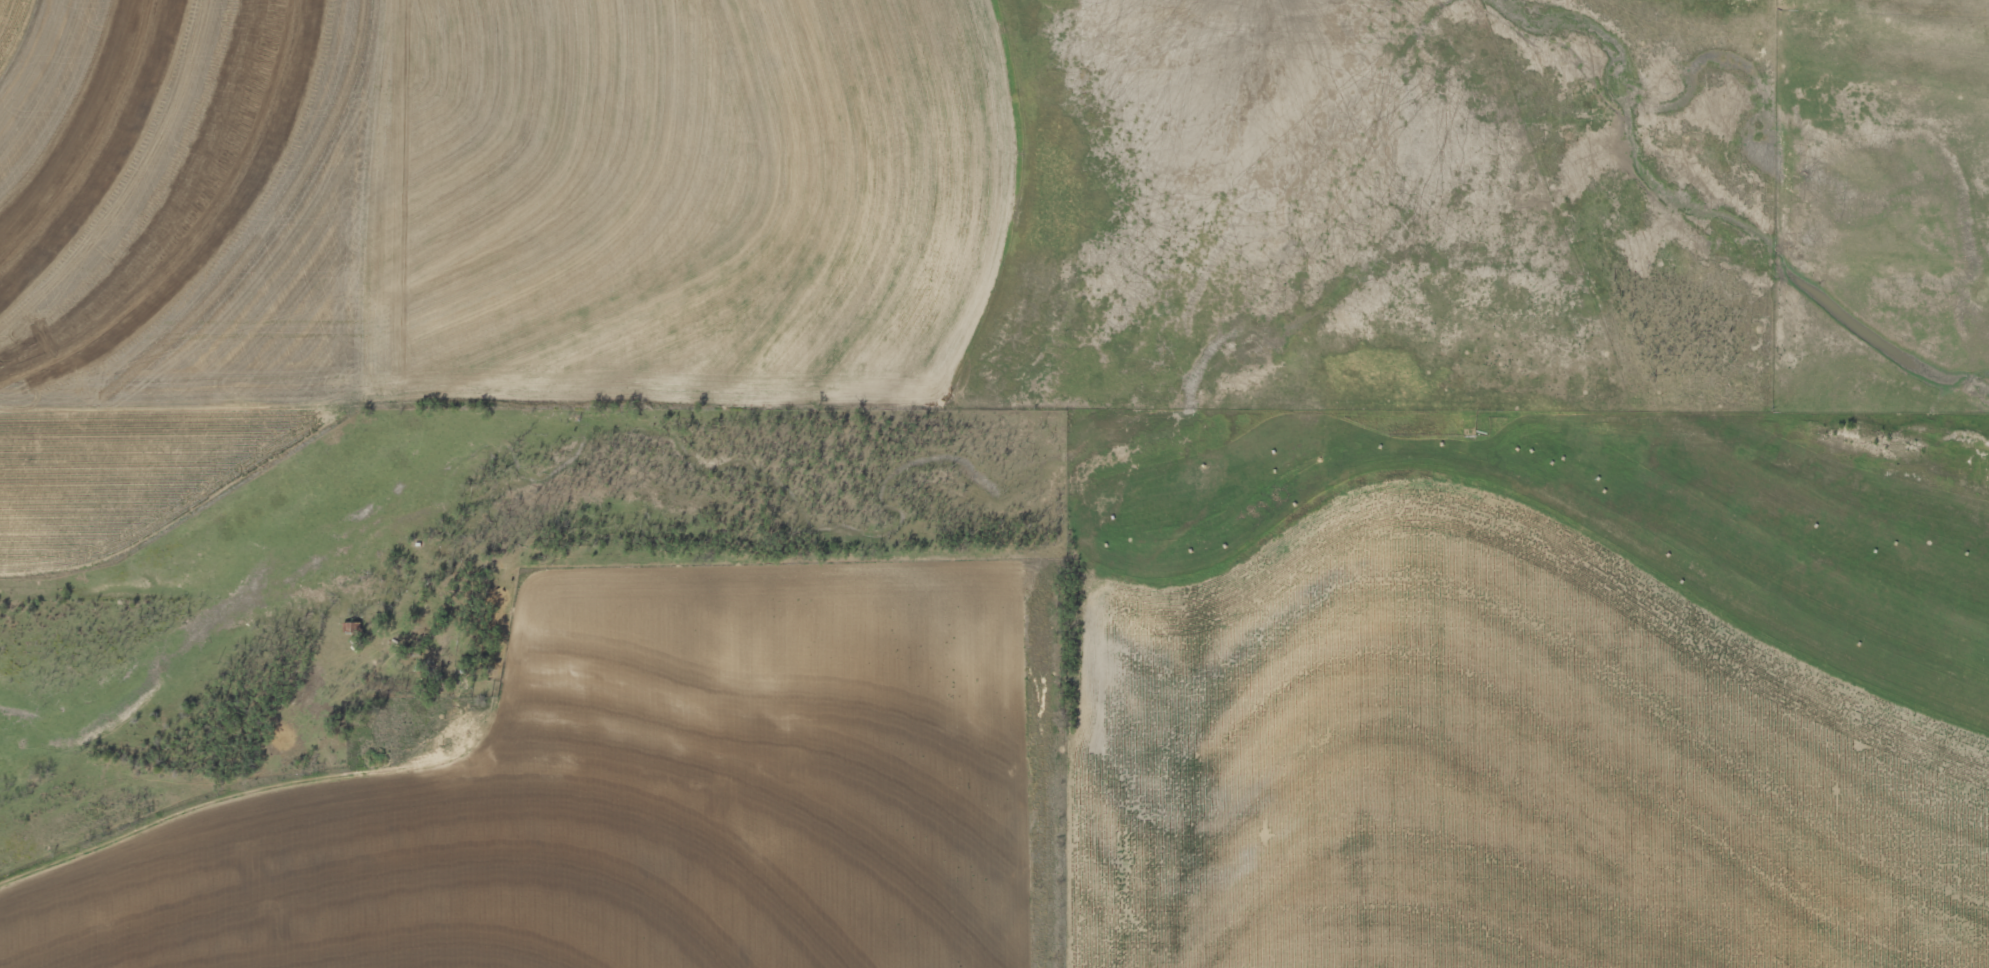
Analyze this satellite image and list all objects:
road: (254, 812)

